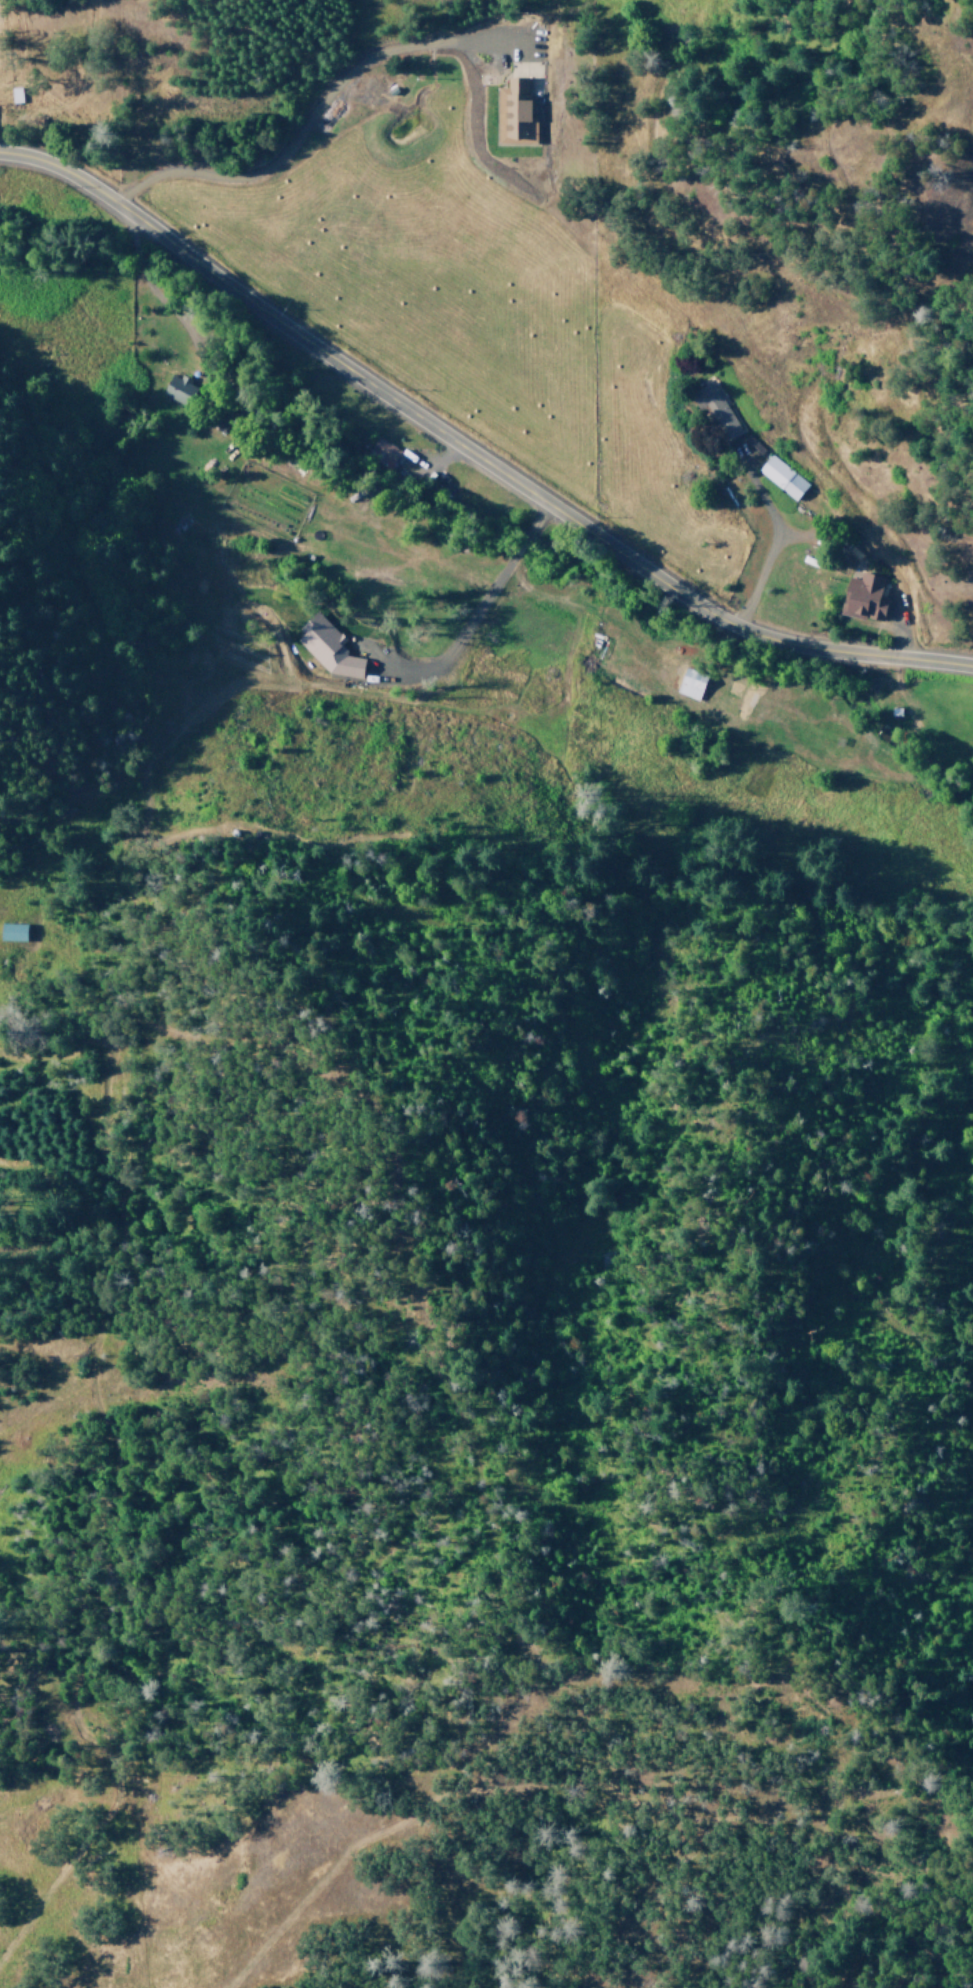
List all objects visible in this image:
building: (515, 116)
building: (180, 390)
building: (716, 409)
building: (382, 454)
road: (469, 454)
building: (782, 477)
building: (865, 597)
building: (328, 647)
building: (691, 683)
building: (13, 932)

